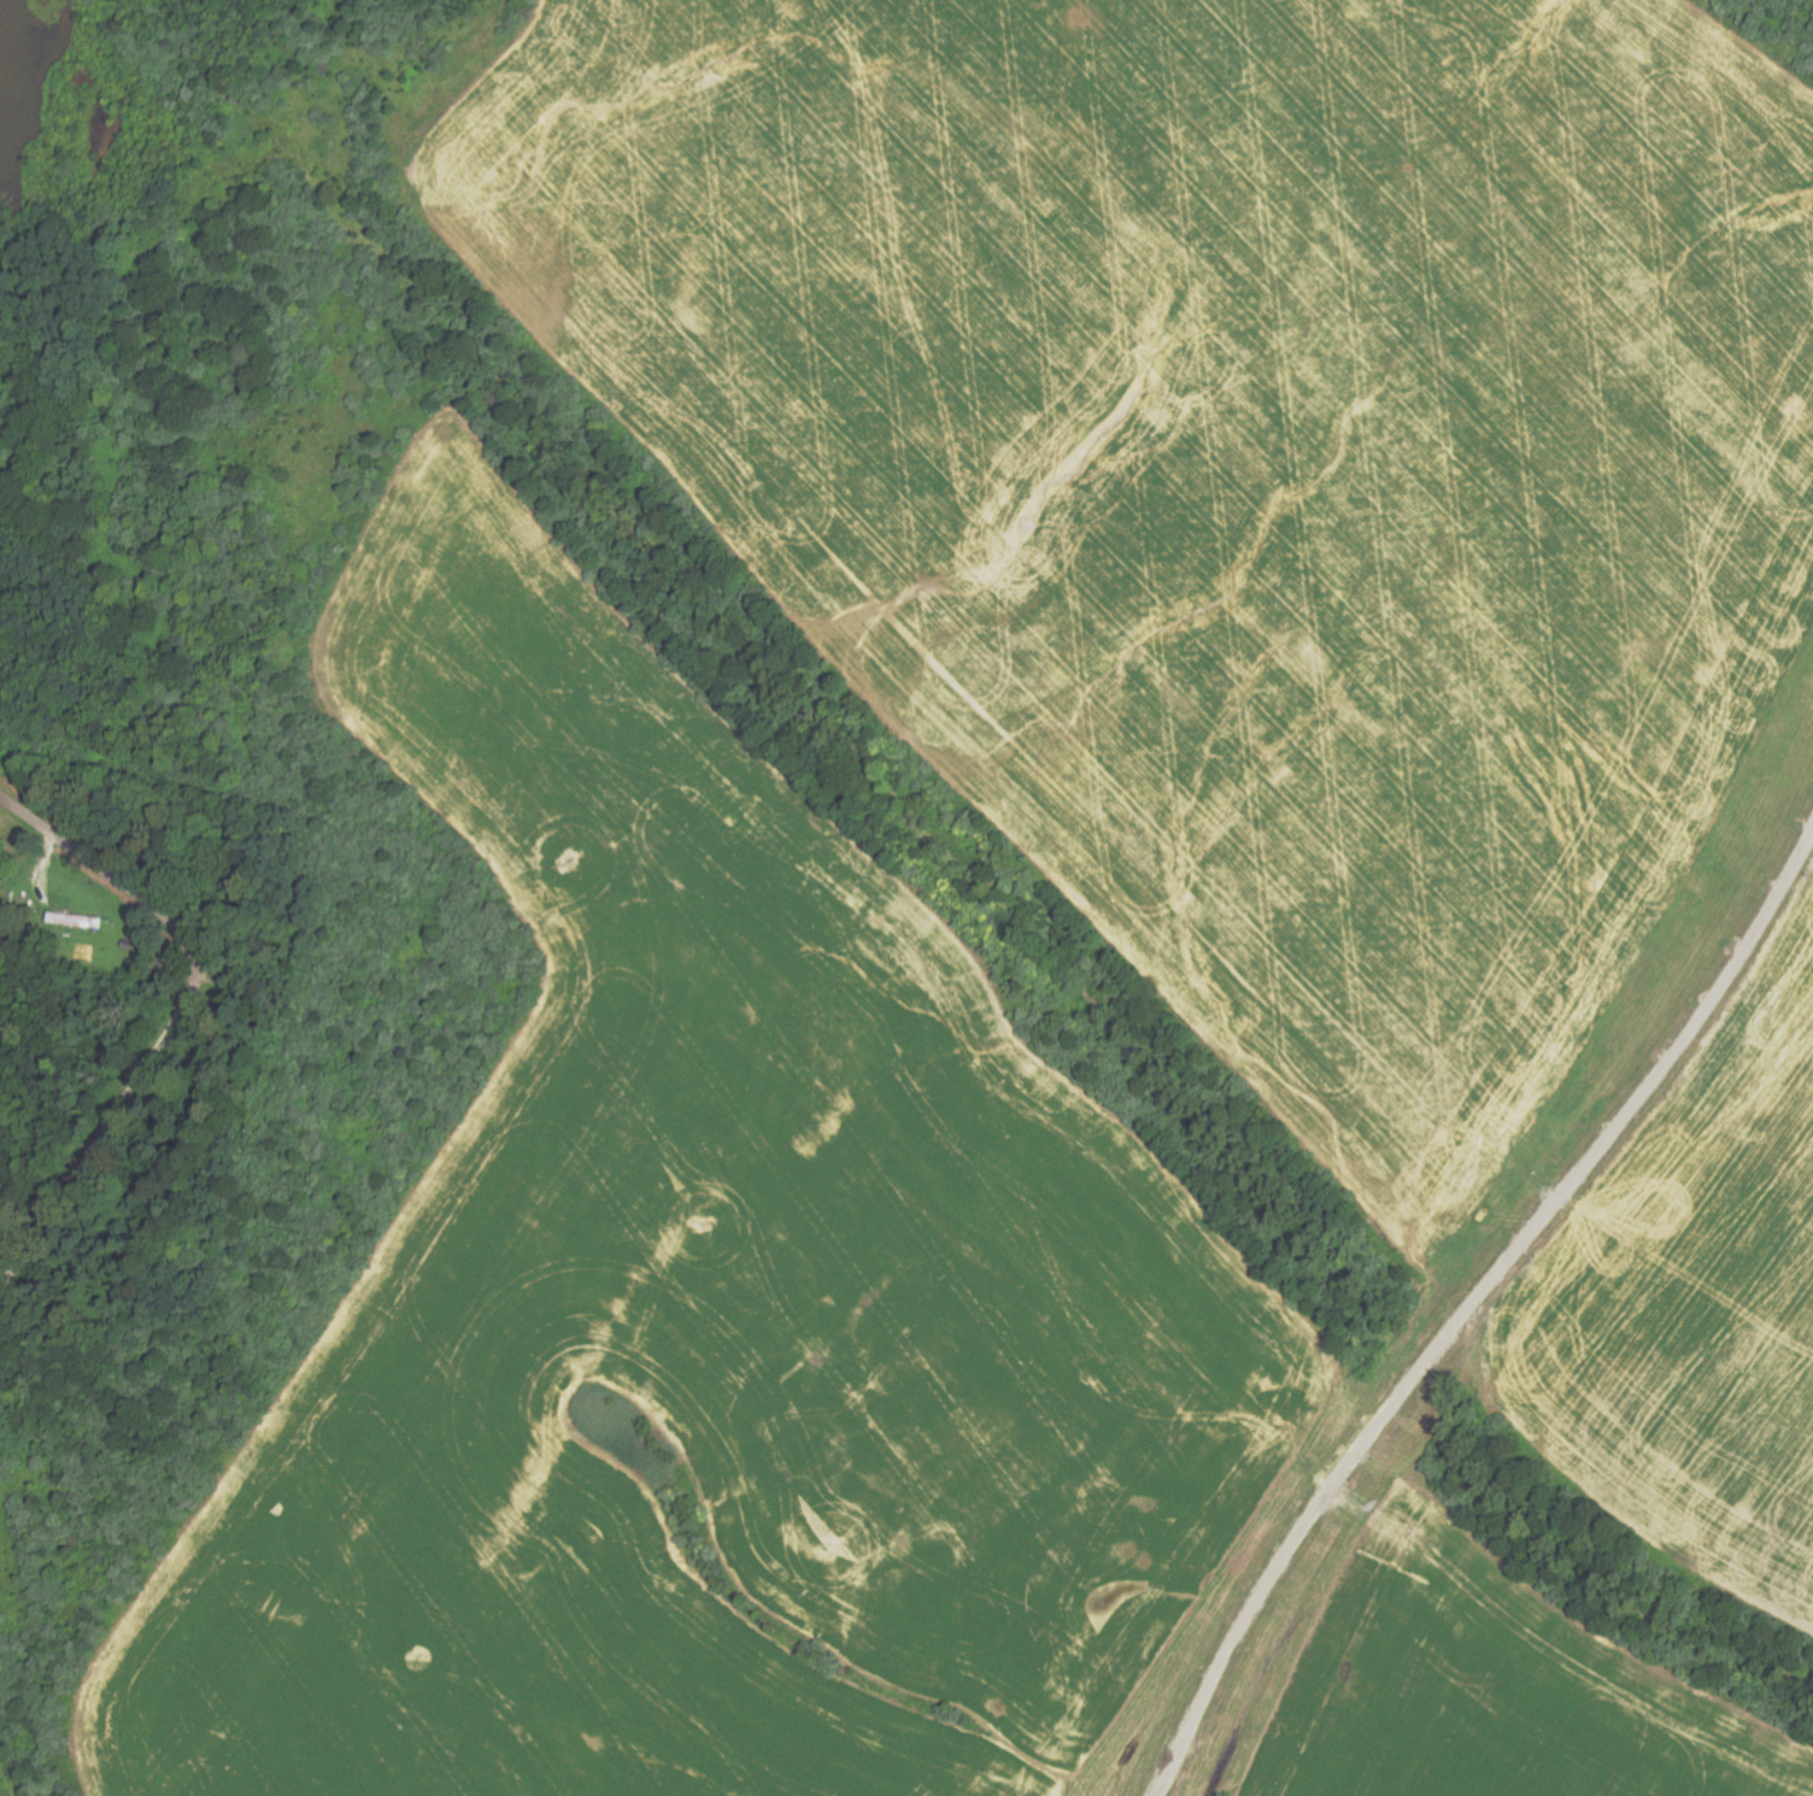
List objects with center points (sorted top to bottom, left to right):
road: (176, 1021)
road: (1485, 1296)

